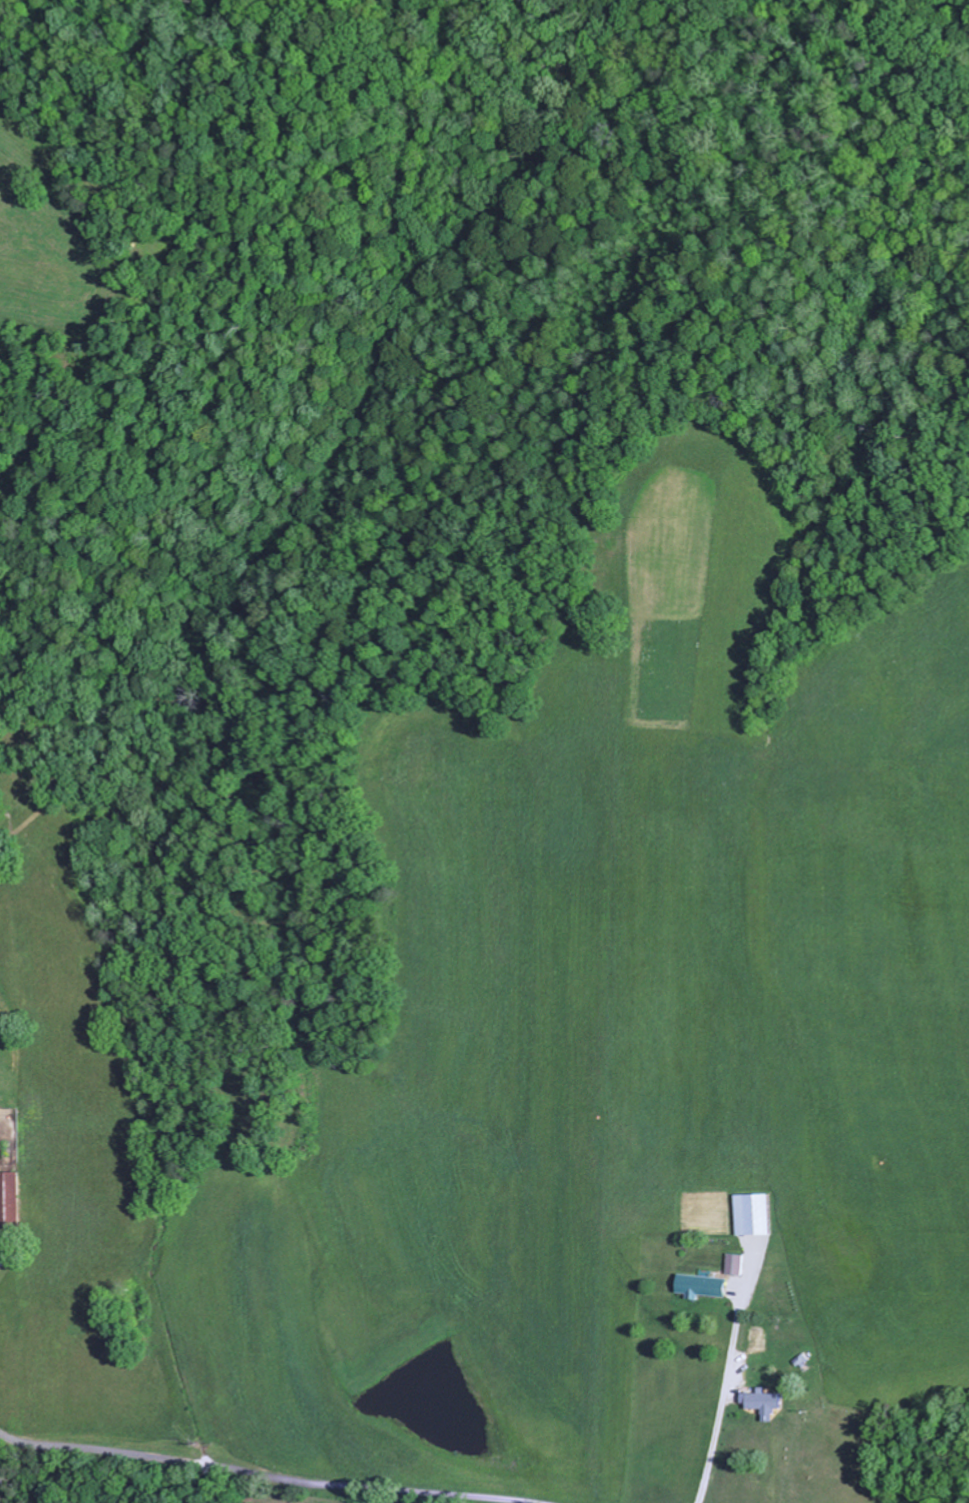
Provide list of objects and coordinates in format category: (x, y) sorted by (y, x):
building: (10, 1195)
building: (756, 1215)
building: (734, 1264)
building: (701, 1287)
building: (754, 1341)
building: (763, 1402)

